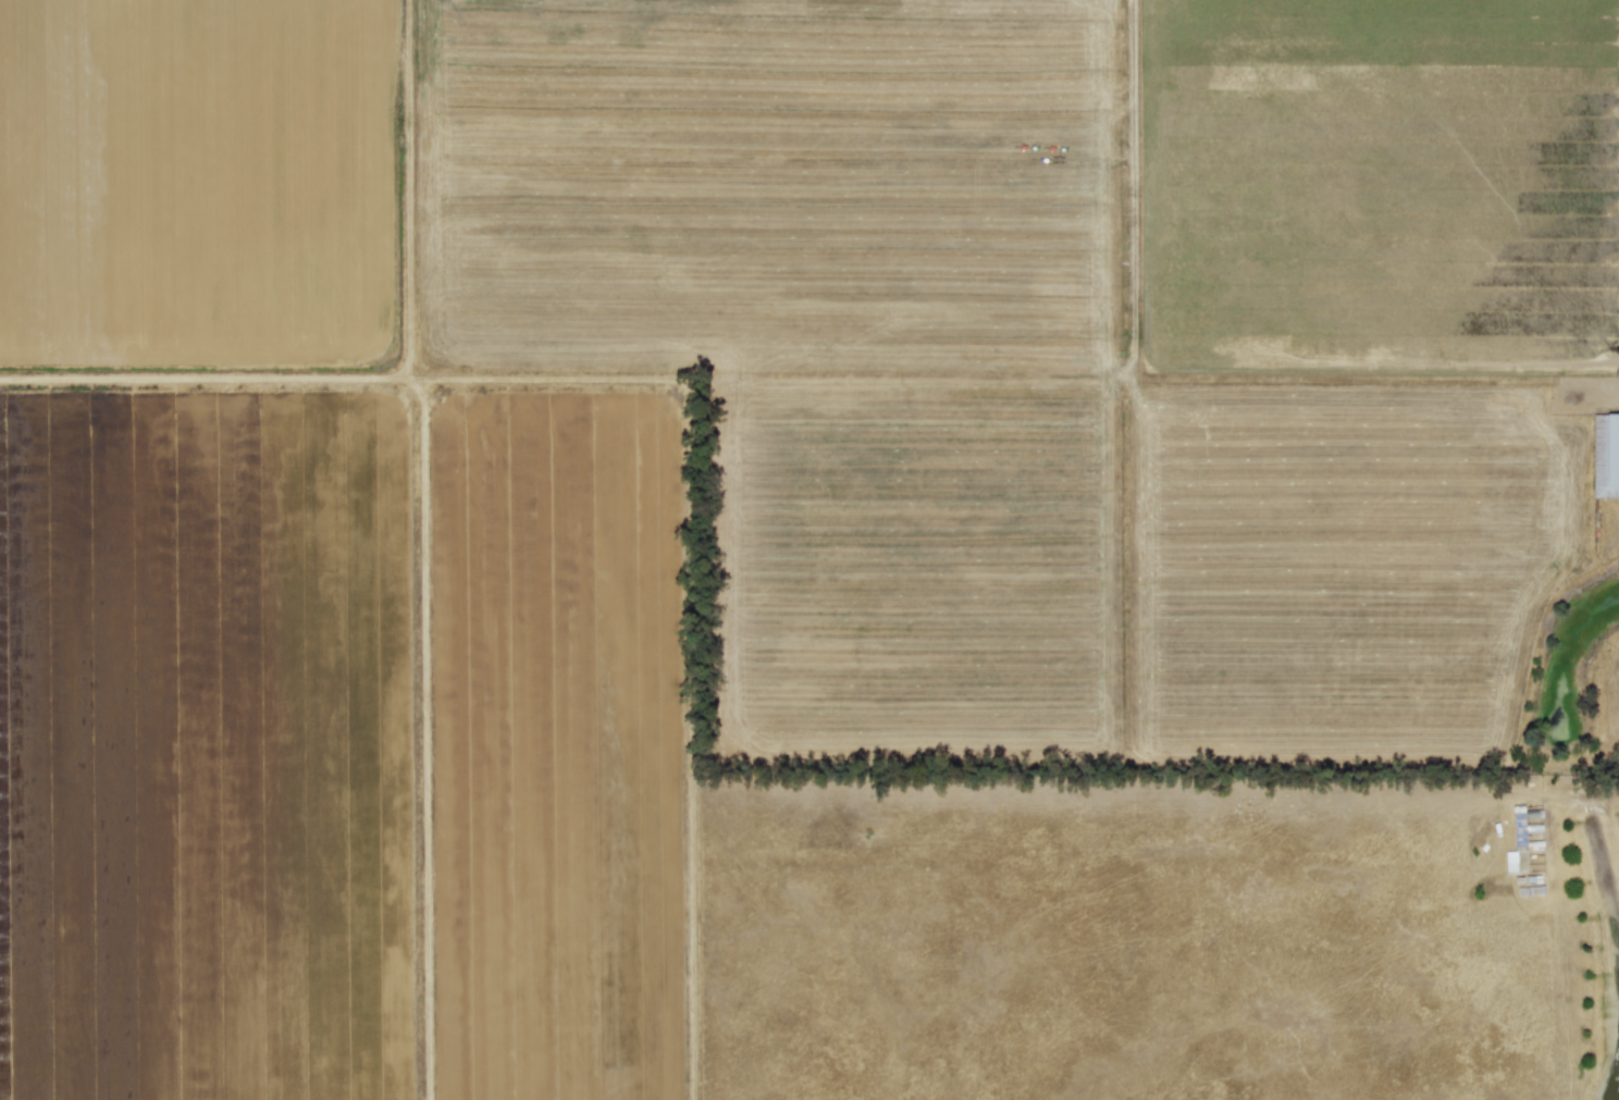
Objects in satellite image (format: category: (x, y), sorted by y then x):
building: (1605, 454)
building: (1519, 838)

